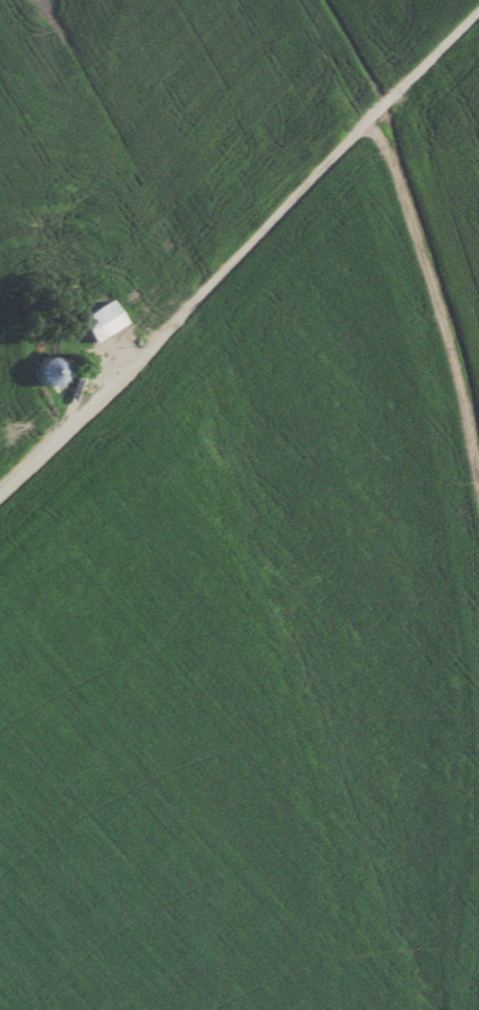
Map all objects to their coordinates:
road: (239, 252)
building: (102, 322)
road: (81, 368)
building: (51, 372)

